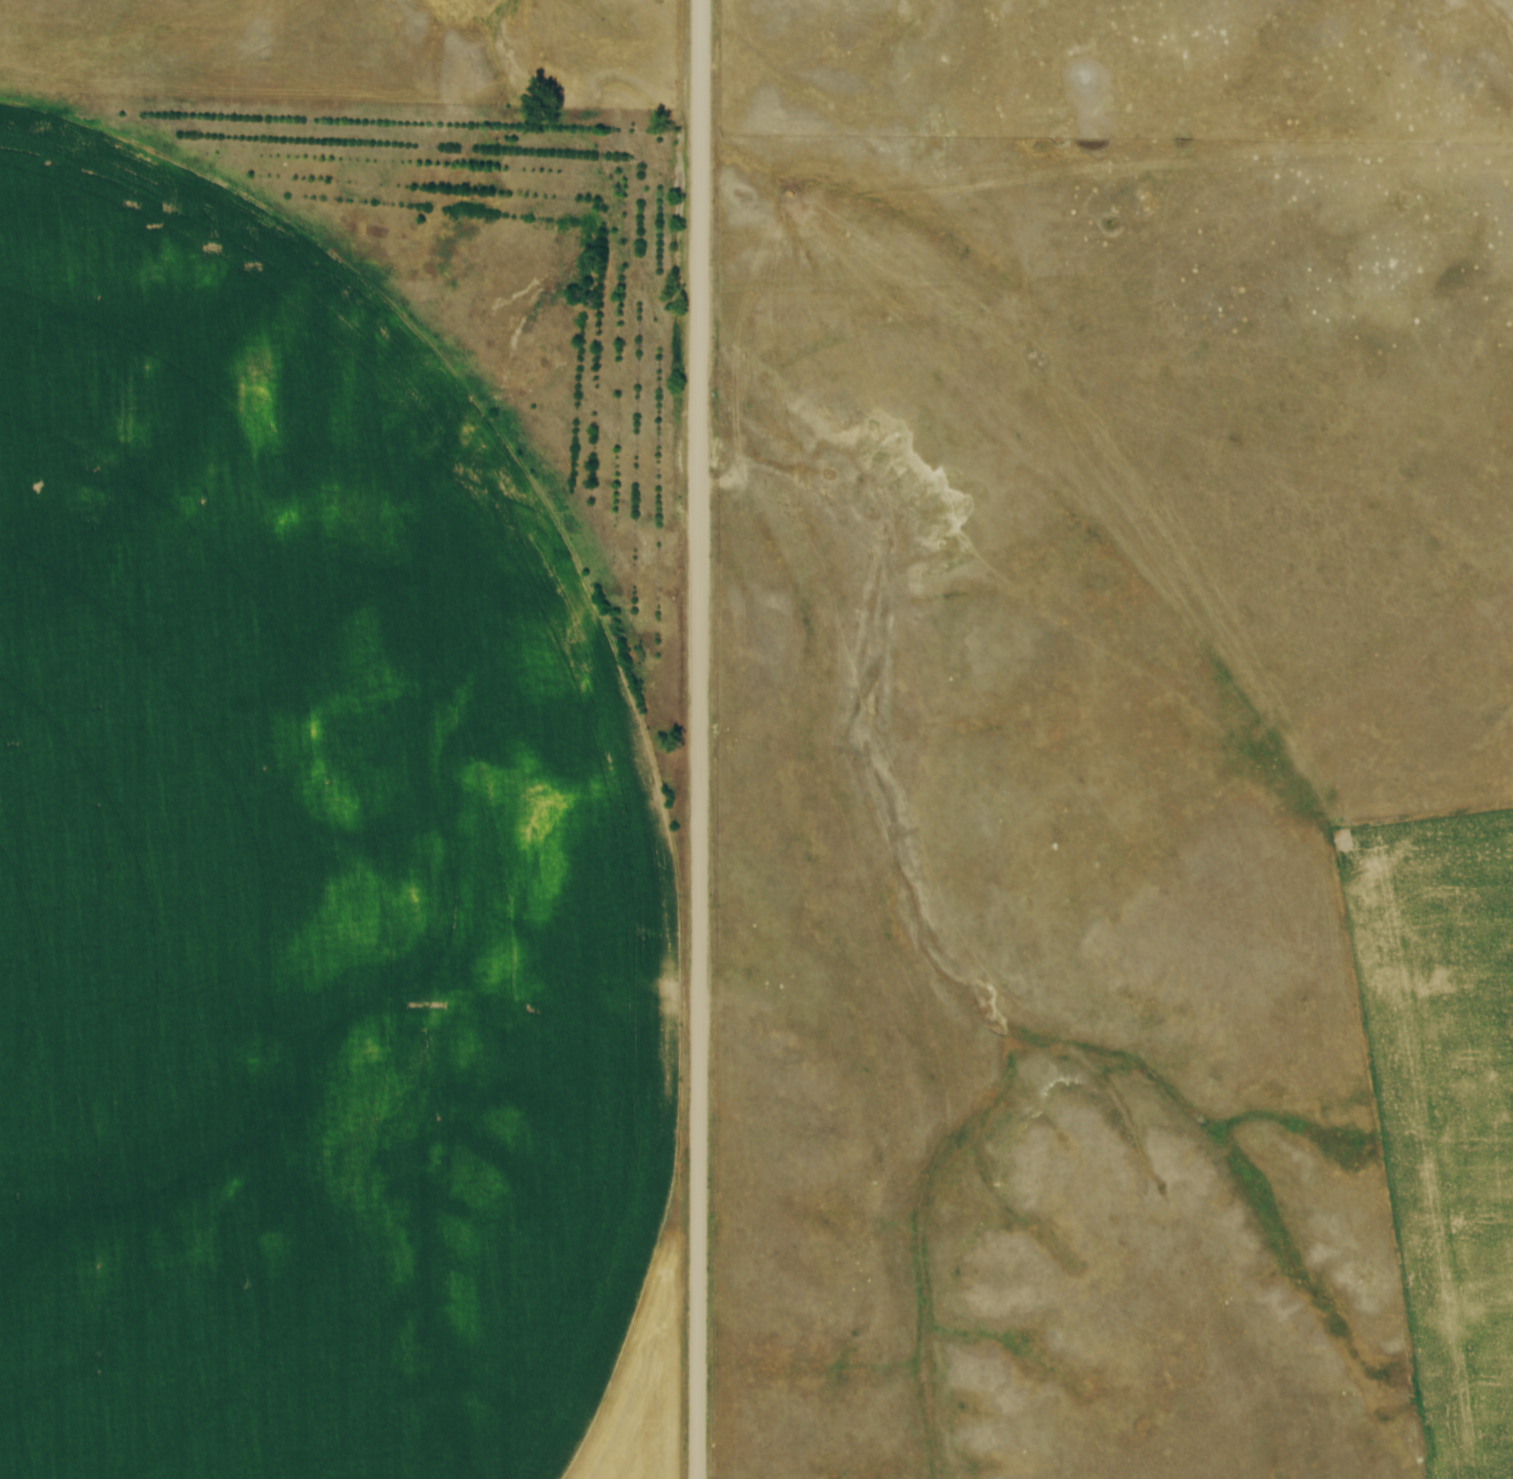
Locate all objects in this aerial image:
road: (697, 739)
crop: (307, 883)
crop: (1442, 1110)

